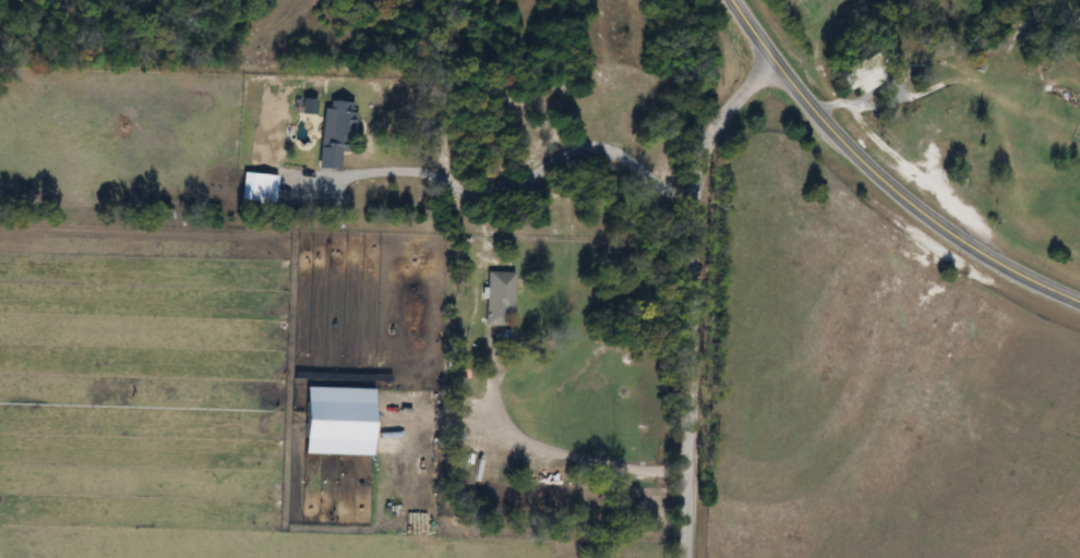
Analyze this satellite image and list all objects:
building: (862, 73)
building: (338, 124)
road: (884, 177)
building: (259, 187)
road: (512, 187)
building: (496, 298)
road: (697, 298)
road: (555, 454)

